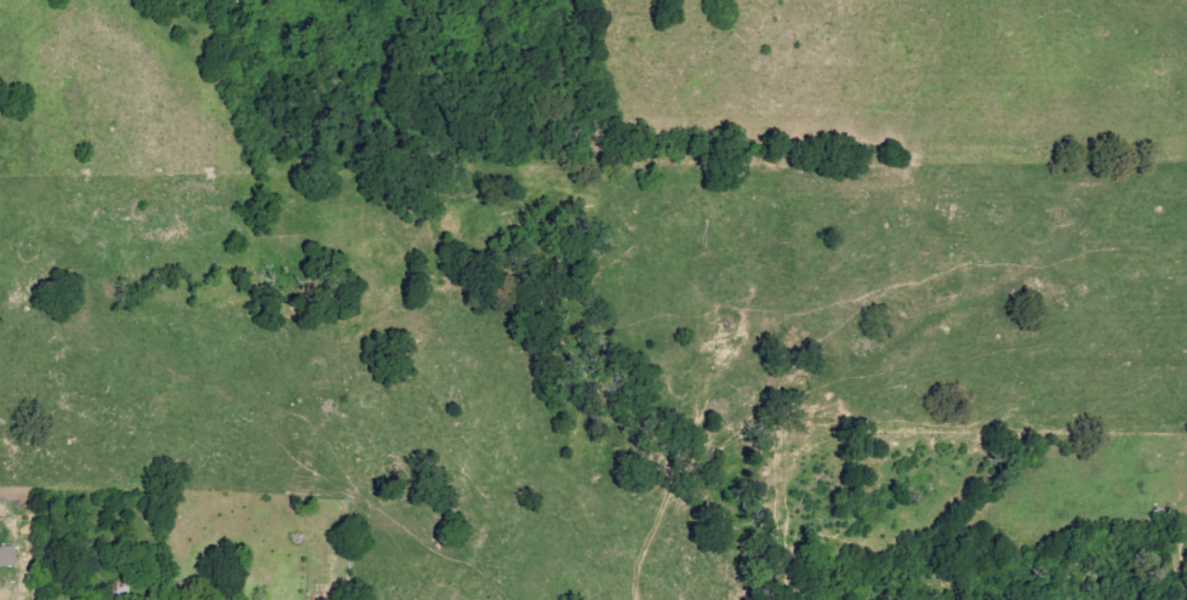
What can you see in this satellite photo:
building: (5, 556)

